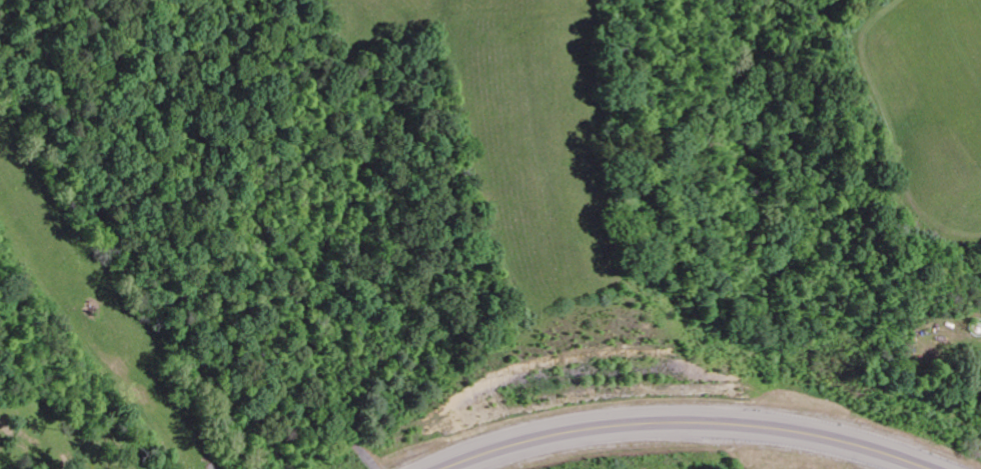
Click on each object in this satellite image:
road: (682, 421)

